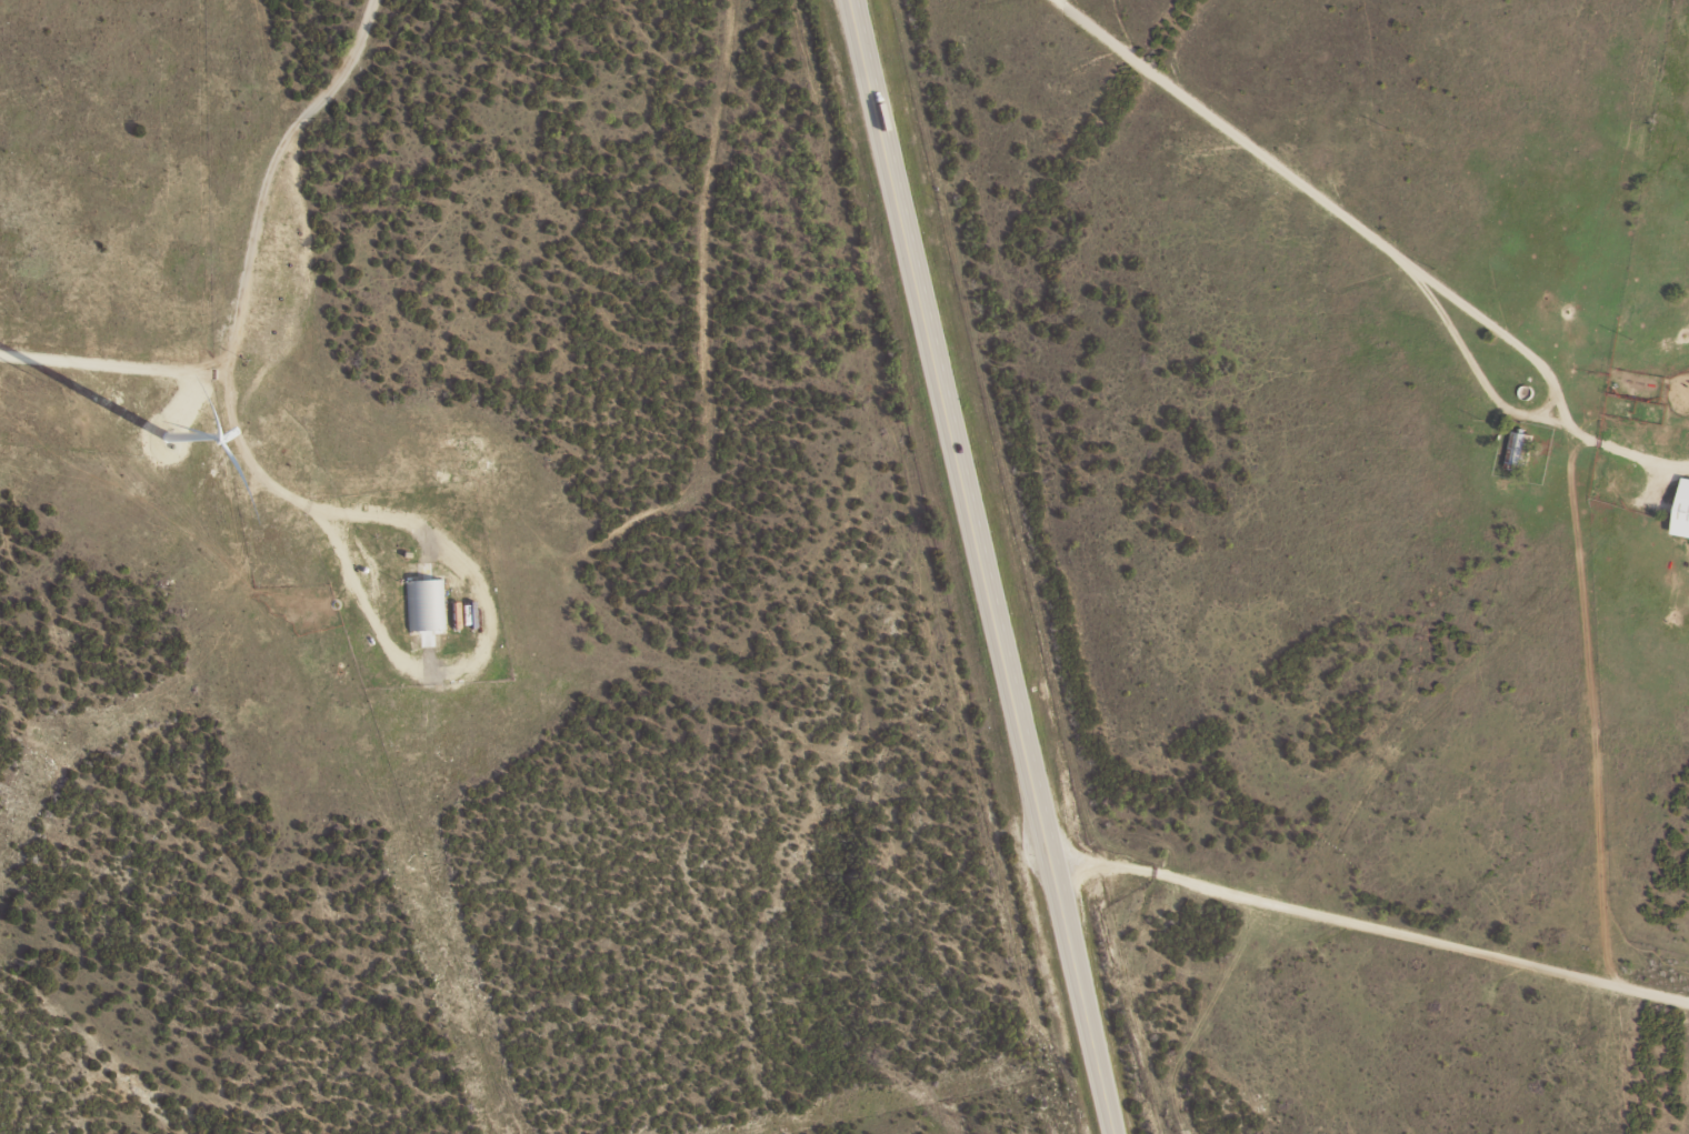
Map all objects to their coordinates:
road: (1377, 241)
road: (244, 258)
road: (111, 364)
wind turbine: (181, 429)
building: (1519, 448)
road: (1686, 464)
building: (1682, 510)
road: (819, 565)
road: (980, 566)
road: (479, 651)
road: (1368, 923)

